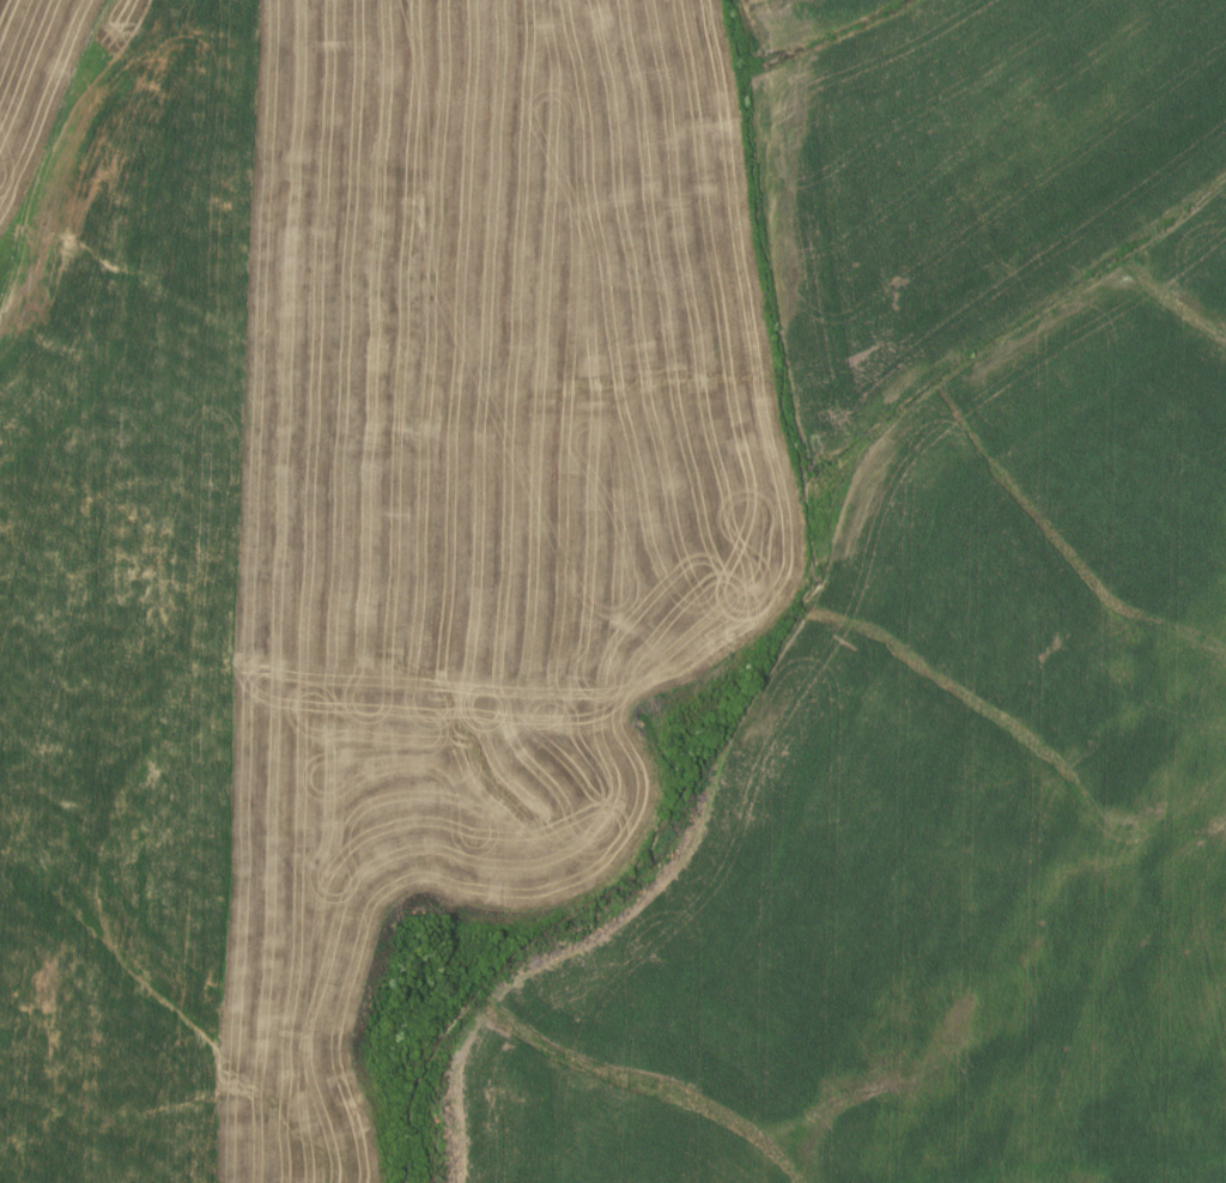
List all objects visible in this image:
crop: (31, 86)
crop: (624, 584)

